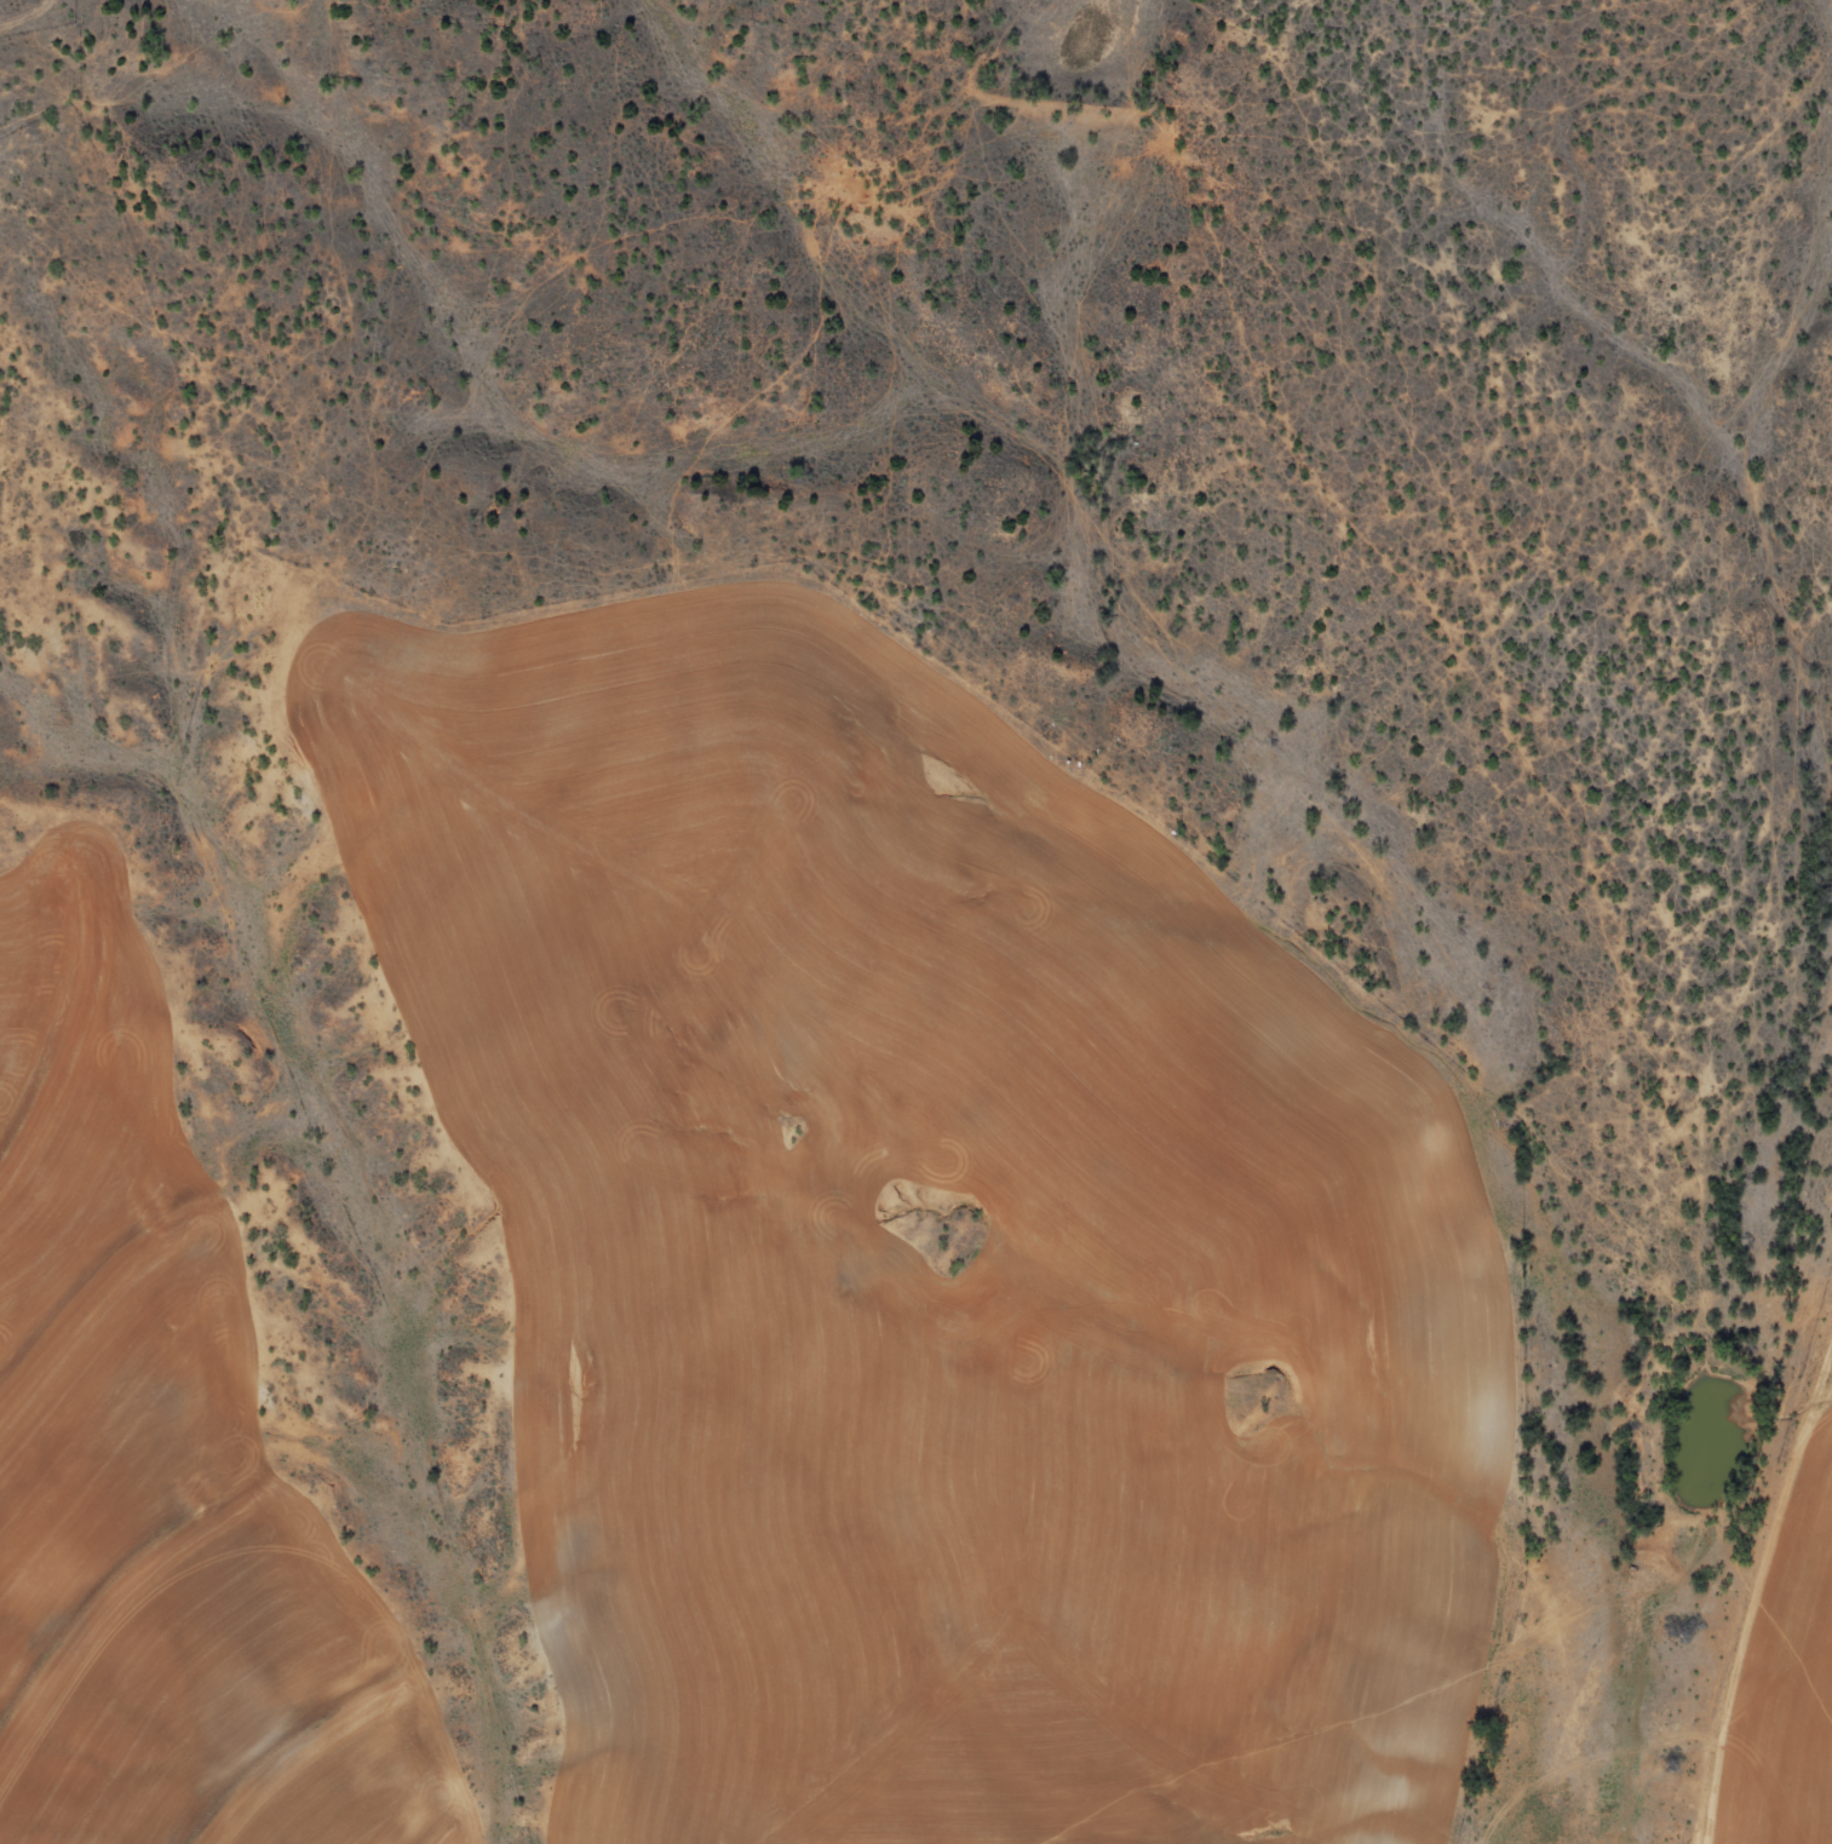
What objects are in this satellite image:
road: (1738, 1555)

